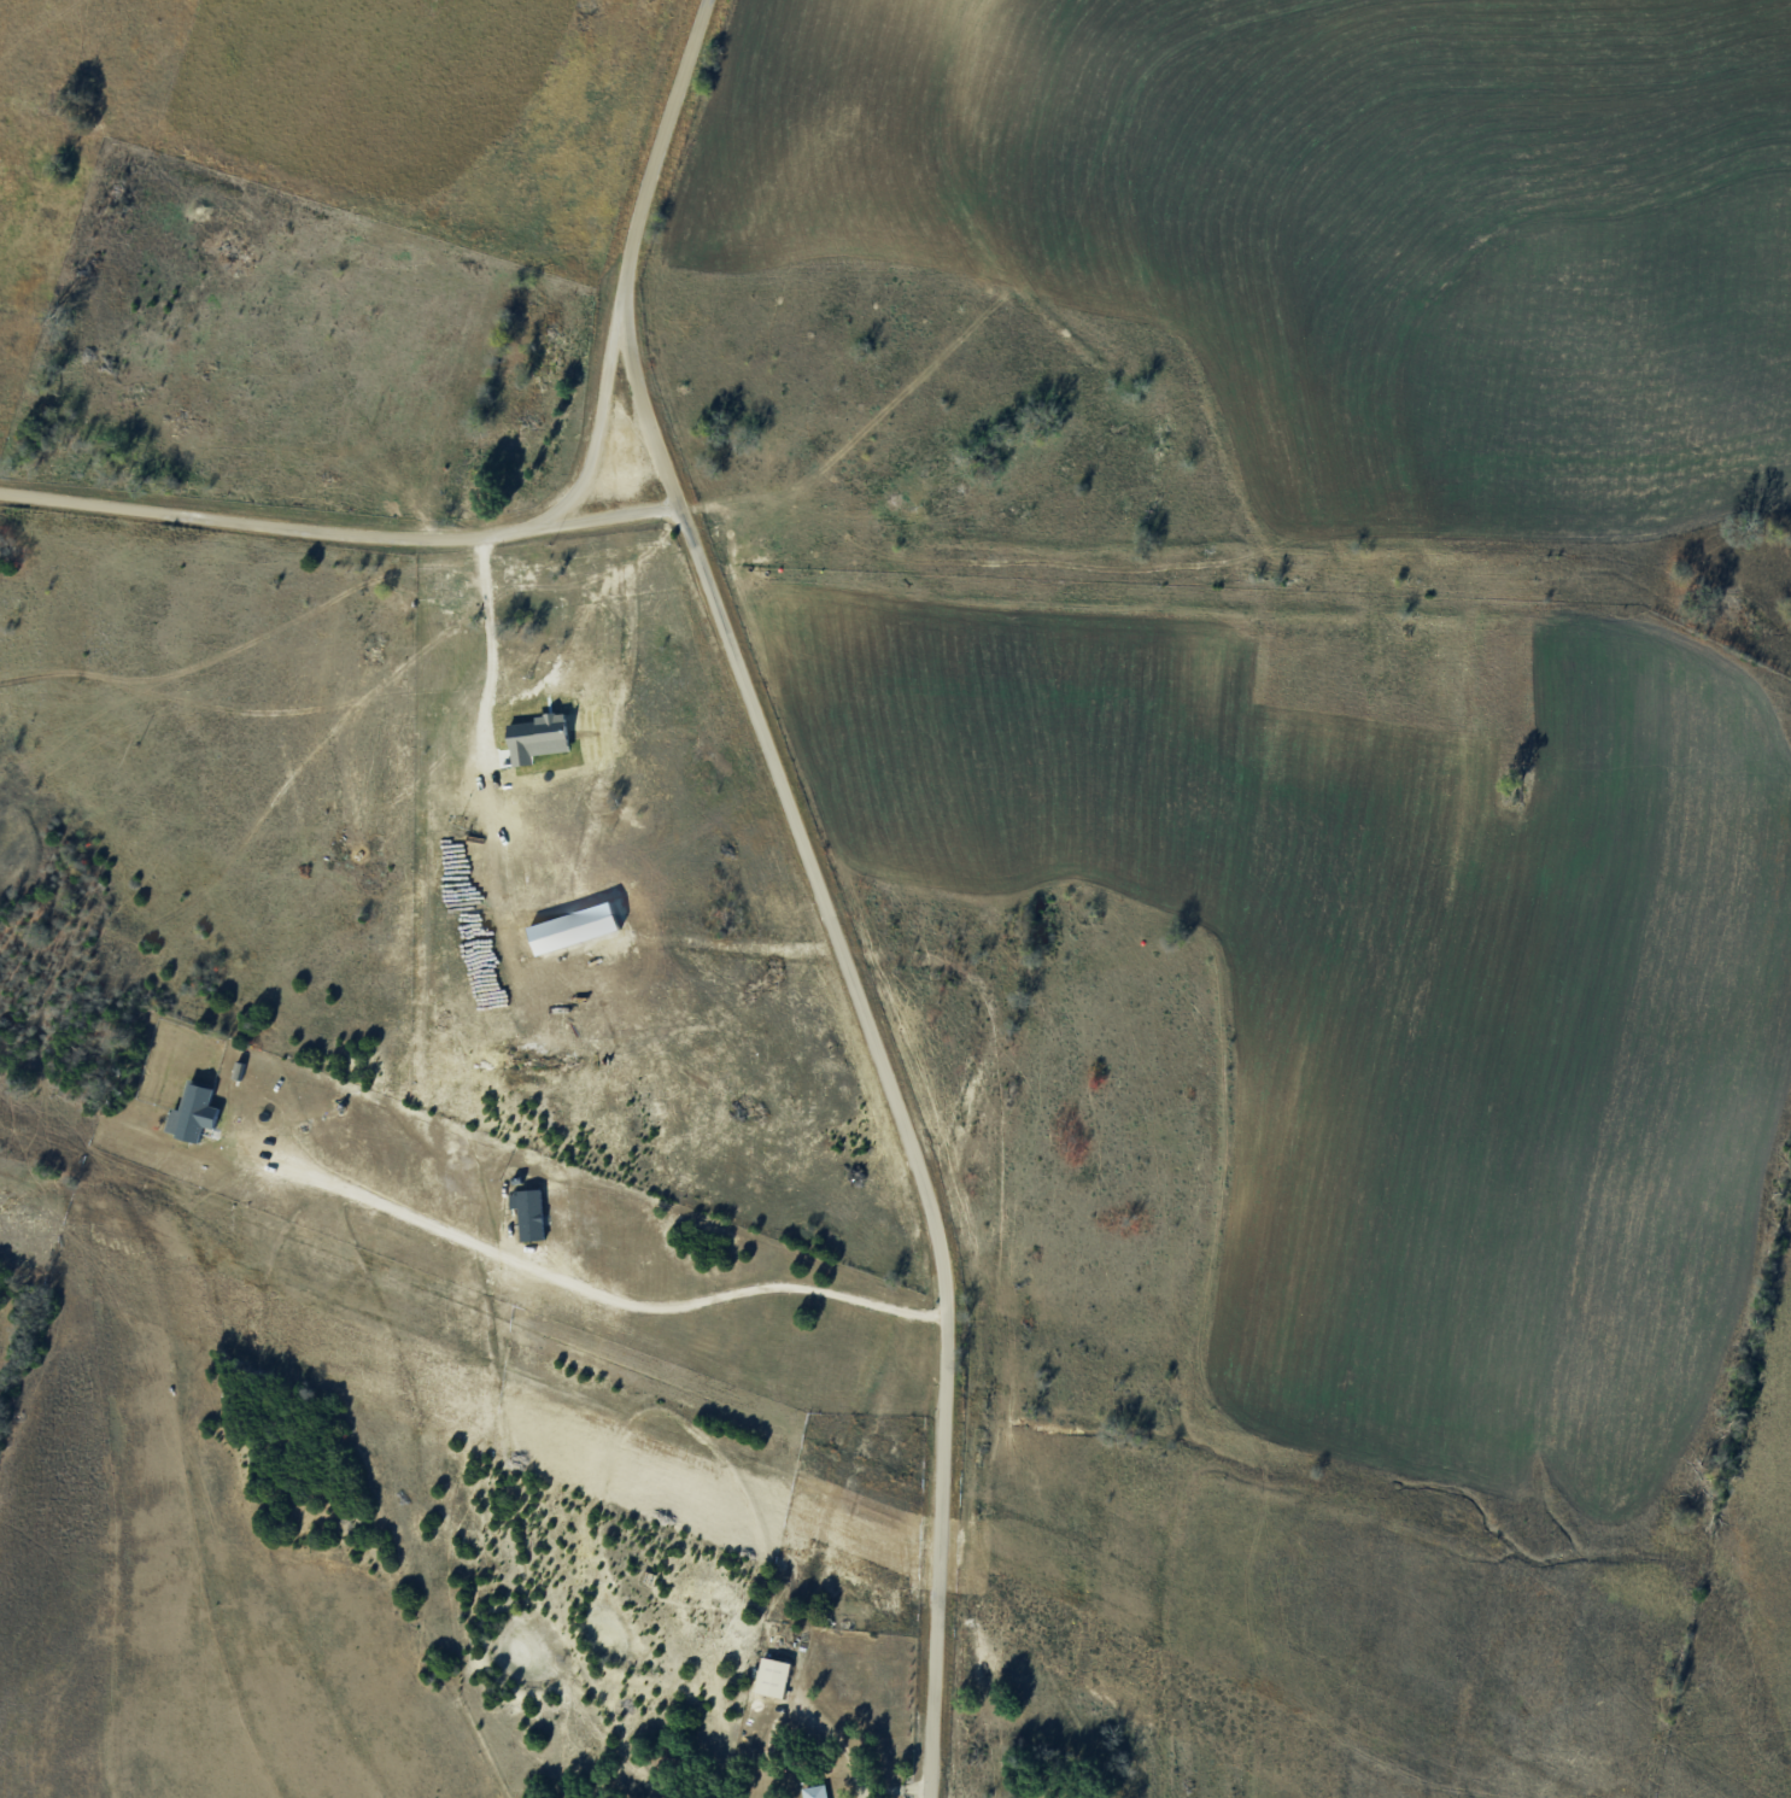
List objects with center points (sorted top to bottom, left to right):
road: (636, 253)
road: (339, 528)
road: (902, 1138)
road: (583, 1289)
building: (772, 1676)
building: (815, 1791)

